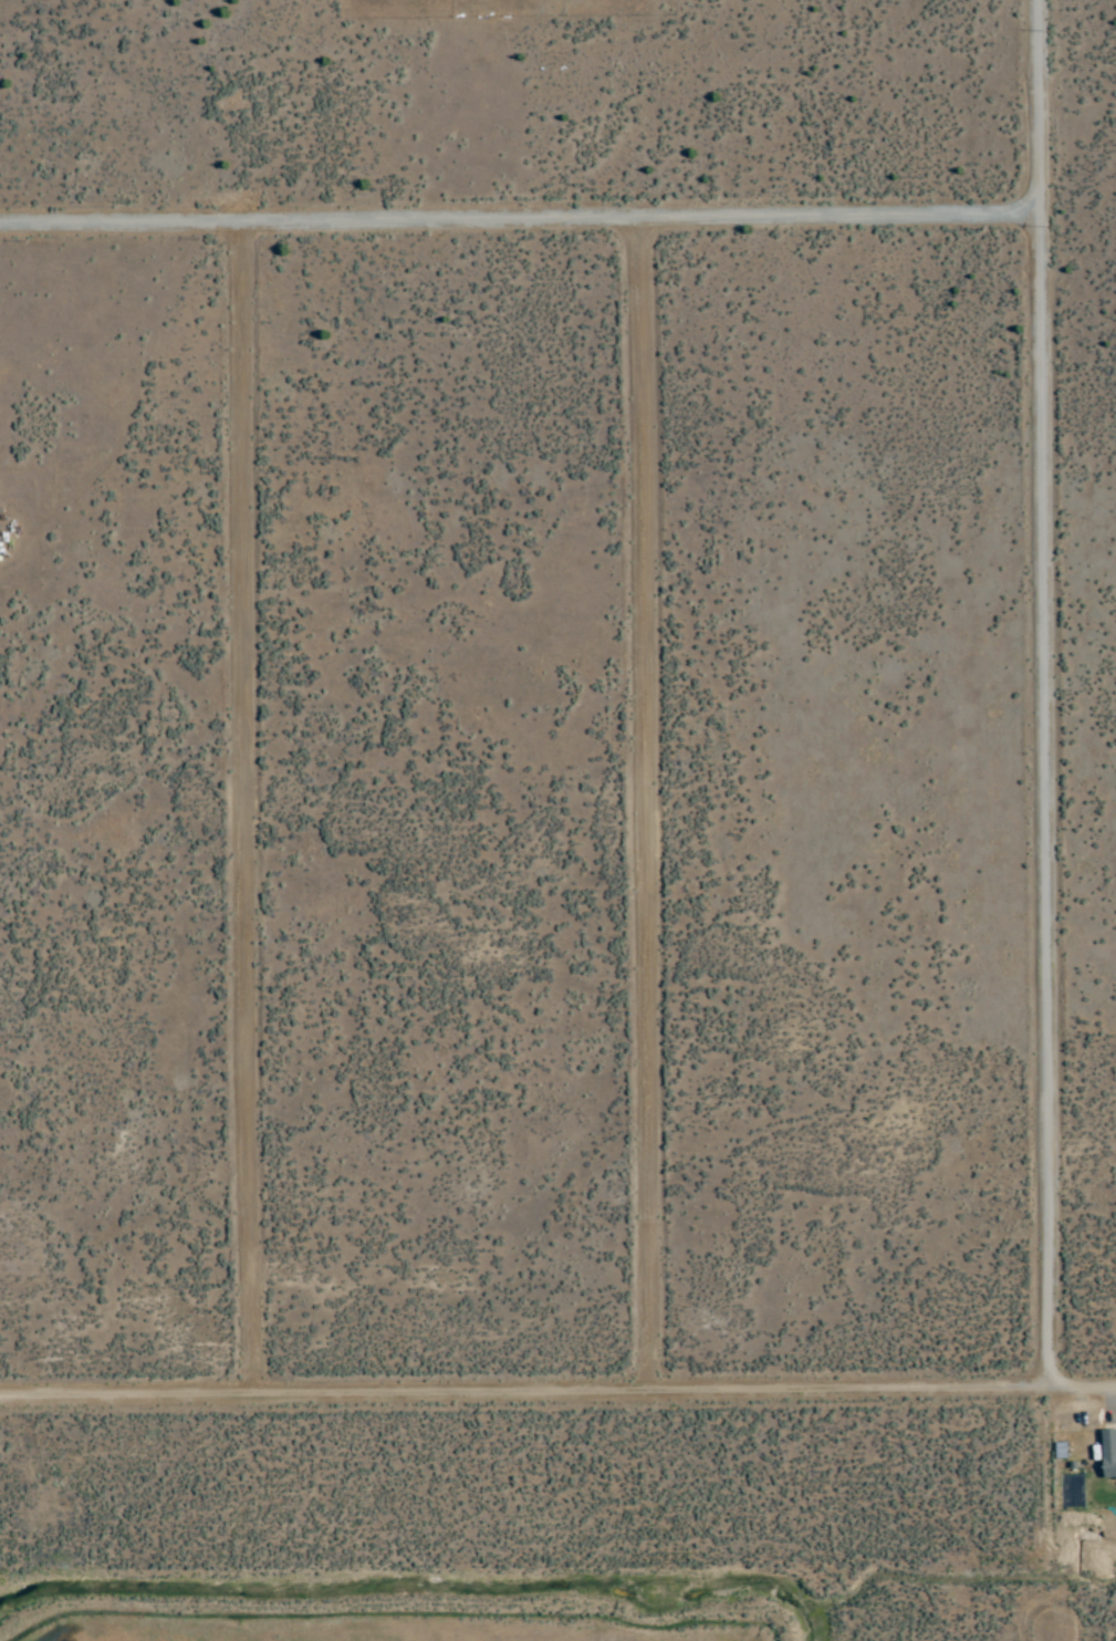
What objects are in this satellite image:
road: (1078, 121)
road: (520, 221)
road: (1050, 800)
road: (649, 807)
road: (249, 810)
road: (557, 1394)
building: (1109, 1453)
road: (1060, 1638)

